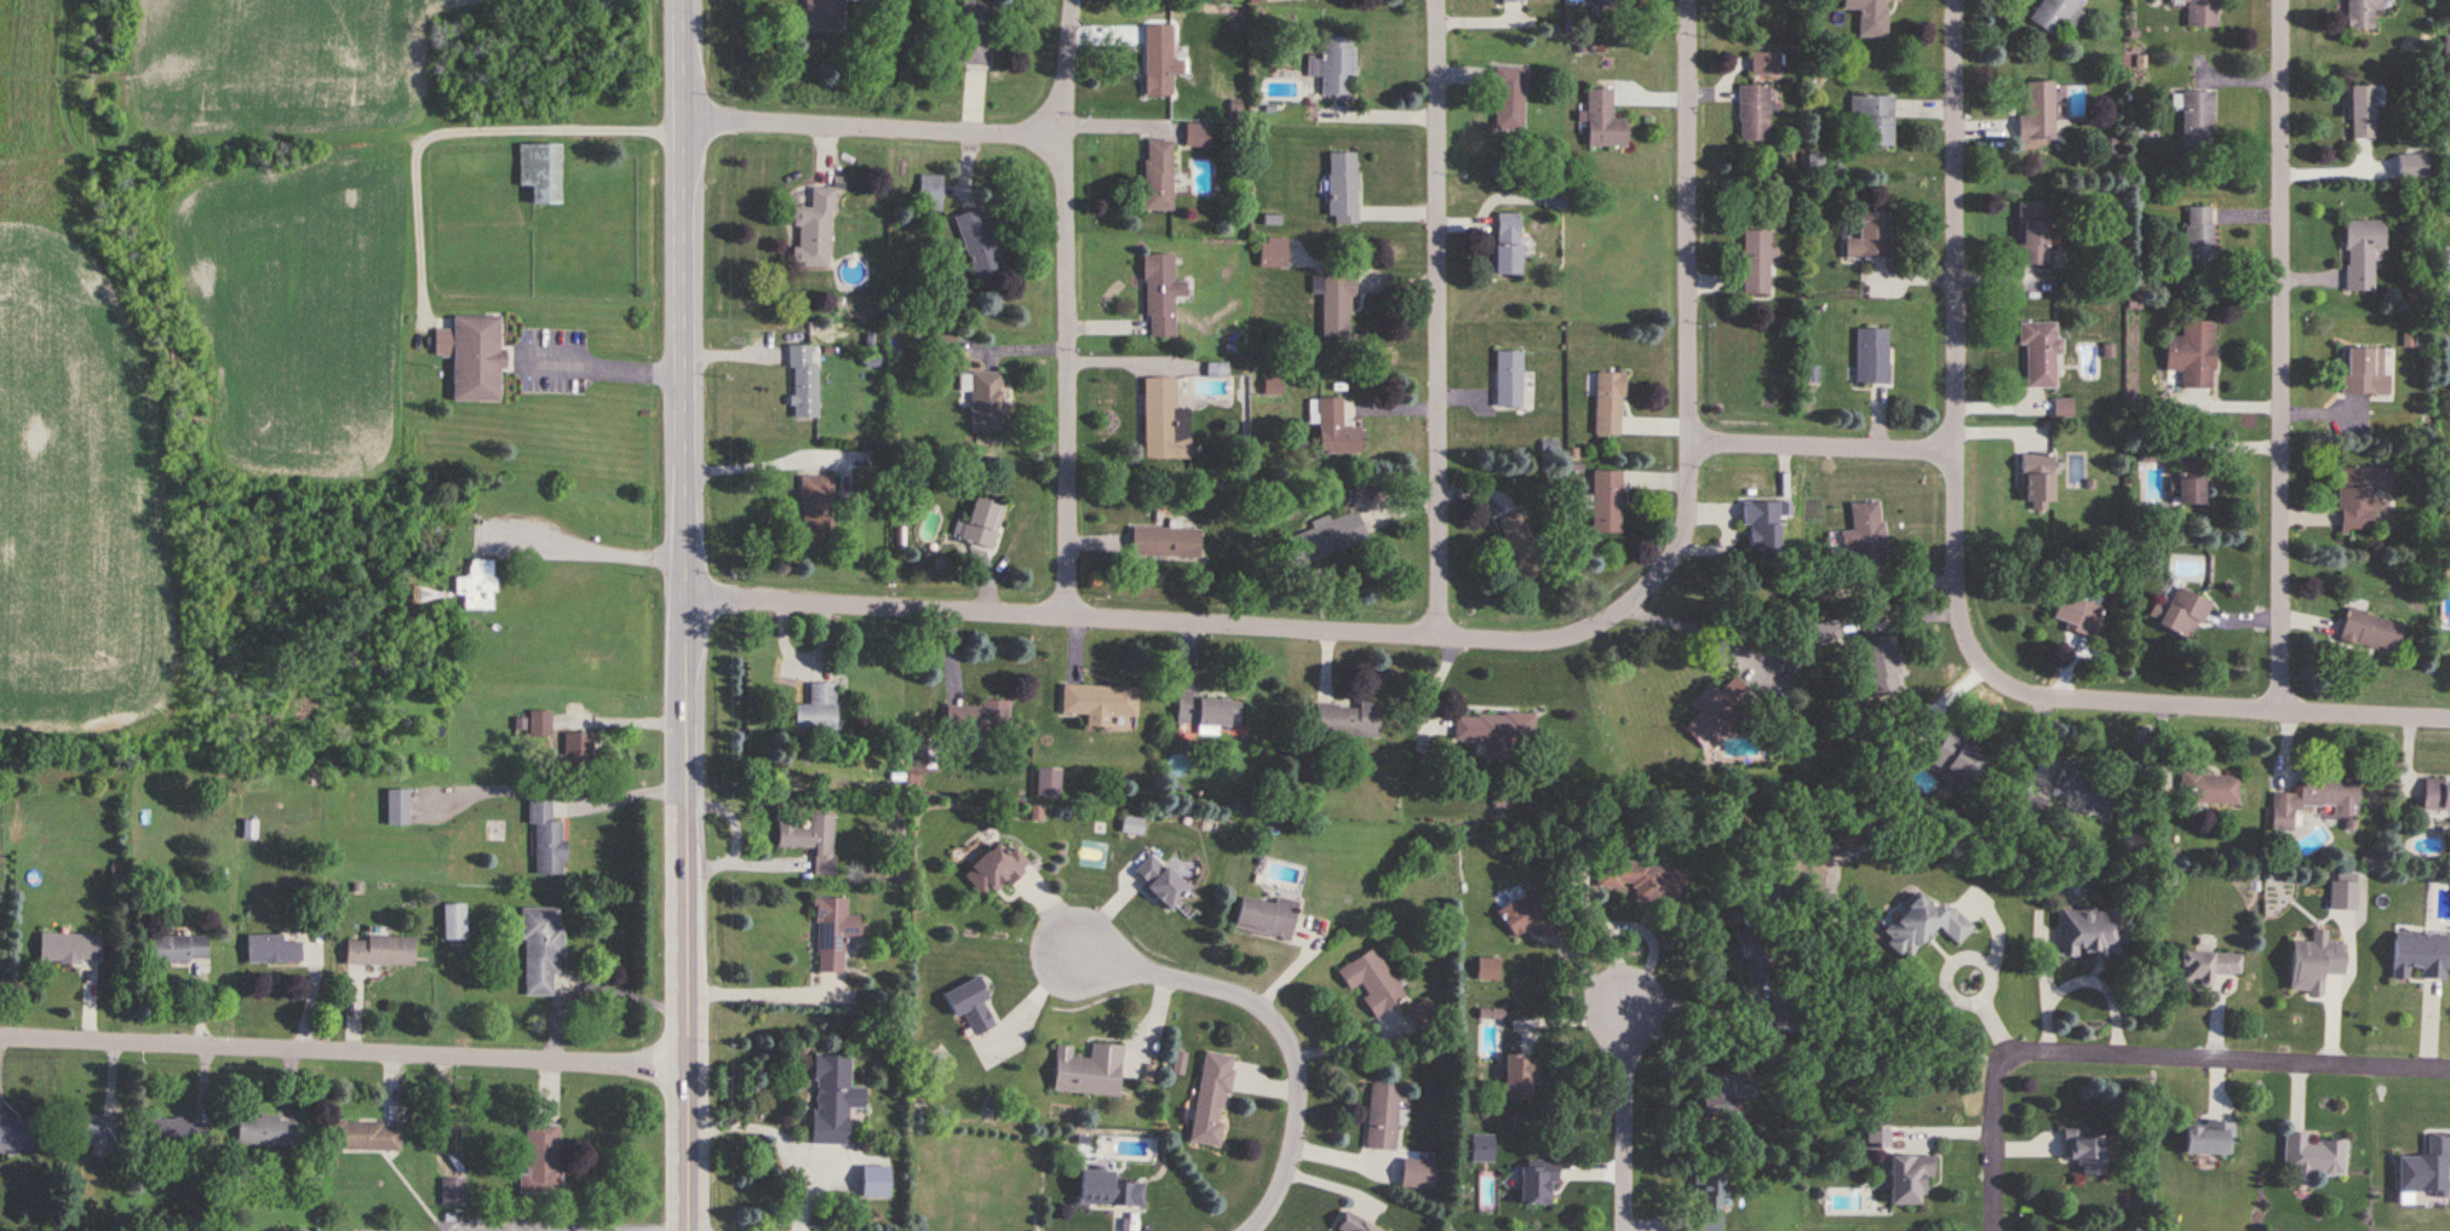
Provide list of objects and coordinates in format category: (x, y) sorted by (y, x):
building: (1510, 1)
building: (1608, 2)
building: (2199, 12)
building: (2362, 13)
building: (826, 15)
building: (2056, 15)
building: (1874, 18)
building: (974, 33)
building: (1159, 62)
building: (1767, 64)
building: (1333, 65)
building: (1509, 99)
building: (2362, 111)
building: (1752, 113)
building: (2037, 113)
building: (1875, 119)
building: (2197, 120)
building: (1603, 121)
road: (878, 126)
road: (465, 132)
building: (540, 172)
building: (1158, 176)
building: (1342, 188)
building: (931, 192)
road: (1691, 220)
road: (1955, 224)
building: (814, 230)
building: (2033, 232)
building: (1869, 237)
building: (2199, 238)
building: (980, 243)
building: (1507, 246)
building: (1278, 252)
building: (2362, 253)
building: (1756, 263)
building: (1160, 295)
road: (687, 297)
building: (1336, 304)
road: (1069, 307)
road: (1441, 317)
building: (2039, 353)
road: (2282, 355)
building: (2192, 356)
building: (474, 357)
building: (1872, 357)
road: (602, 361)
building: (2364, 372)
building: (1509, 379)
building: (803, 384)
building: (985, 399)
building: (1608, 404)
building: (1164, 421)
building: (1336, 430)
road: (1821, 444)
road: (761, 465)
building: (2036, 482)
building: (2191, 483)
building: (2360, 497)
building: (1607, 501)
building: (817, 510)
building: (982, 523)
building: (1761, 525)
building: (1865, 537)
building: (1327, 539)
building: (1165, 542)
road: (586, 545)
building: (1522, 546)
building: (478, 586)
building: (2076, 615)
building: (2181, 615)
road: (1252, 625)
building: (2370, 632)
building: (1880, 669)
road: (2102, 698)
building: (1100, 703)
building: (816, 709)
building: (1207, 712)
building: (1711, 715)
building: (977, 718)
building: (1347, 721)
building: (540, 725)
building: (1496, 731)
building: (579, 748)
building: (1957, 760)
building: (1048, 783)
building: (2078, 789)
building: (2210, 789)
building: (2437, 795)
road: (622, 798)
building: (2316, 800)
building: (1132, 827)
road: (738, 835)
building: (809, 838)
building: (546, 841)
building: (993, 872)
building: (1640, 880)
building: (1159, 882)
building: (2343, 892)
road: (688, 911)
building: (1528, 916)
building: (1266, 919)
building: (1922, 927)
building: (832, 934)
building: (2090, 934)
building: (69, 949)
building: (178, 949)
building: (272, 950)
building: (541, 950)
building: (380, 951)
building: (2419, 956)
building: (1755, 957)
road: (1953, 962)
building: (2314, 963)
building: (2207, 968)
building: (1487, 970)
road: (2077, 973)
building: (1372, 983)
road: (759, 994)
road: (1037, 1002)
building: (970, 1006)
road: (1281, 1026)
road: (344, 1042)
road: (2139, 1052)
building: (1088, 1071)
building: (1519, 1078)
building: (1726, 1093)
building: (832, 1099)
building: (1211, 1099)
road: (1628, 1114)
building: (1382, 1117)
building: (92, 1131)
building: (265, 1131)
building: (179, 1133)
building: (17, 1134)
building: (363, 1137)
building: (2208, 1139)
road: (781, 1140)
building: (1482, 1147)
building: (2084, 1152)
building: (2312, 1158)
building: (541, 1161)
building: (1907, 1179)
building: (873, 1181)
building: (1536, 1181)
building: (453, 1191)
building: (1107, 1191)
building: (1710, 1196)
building: (1354, 1225)

